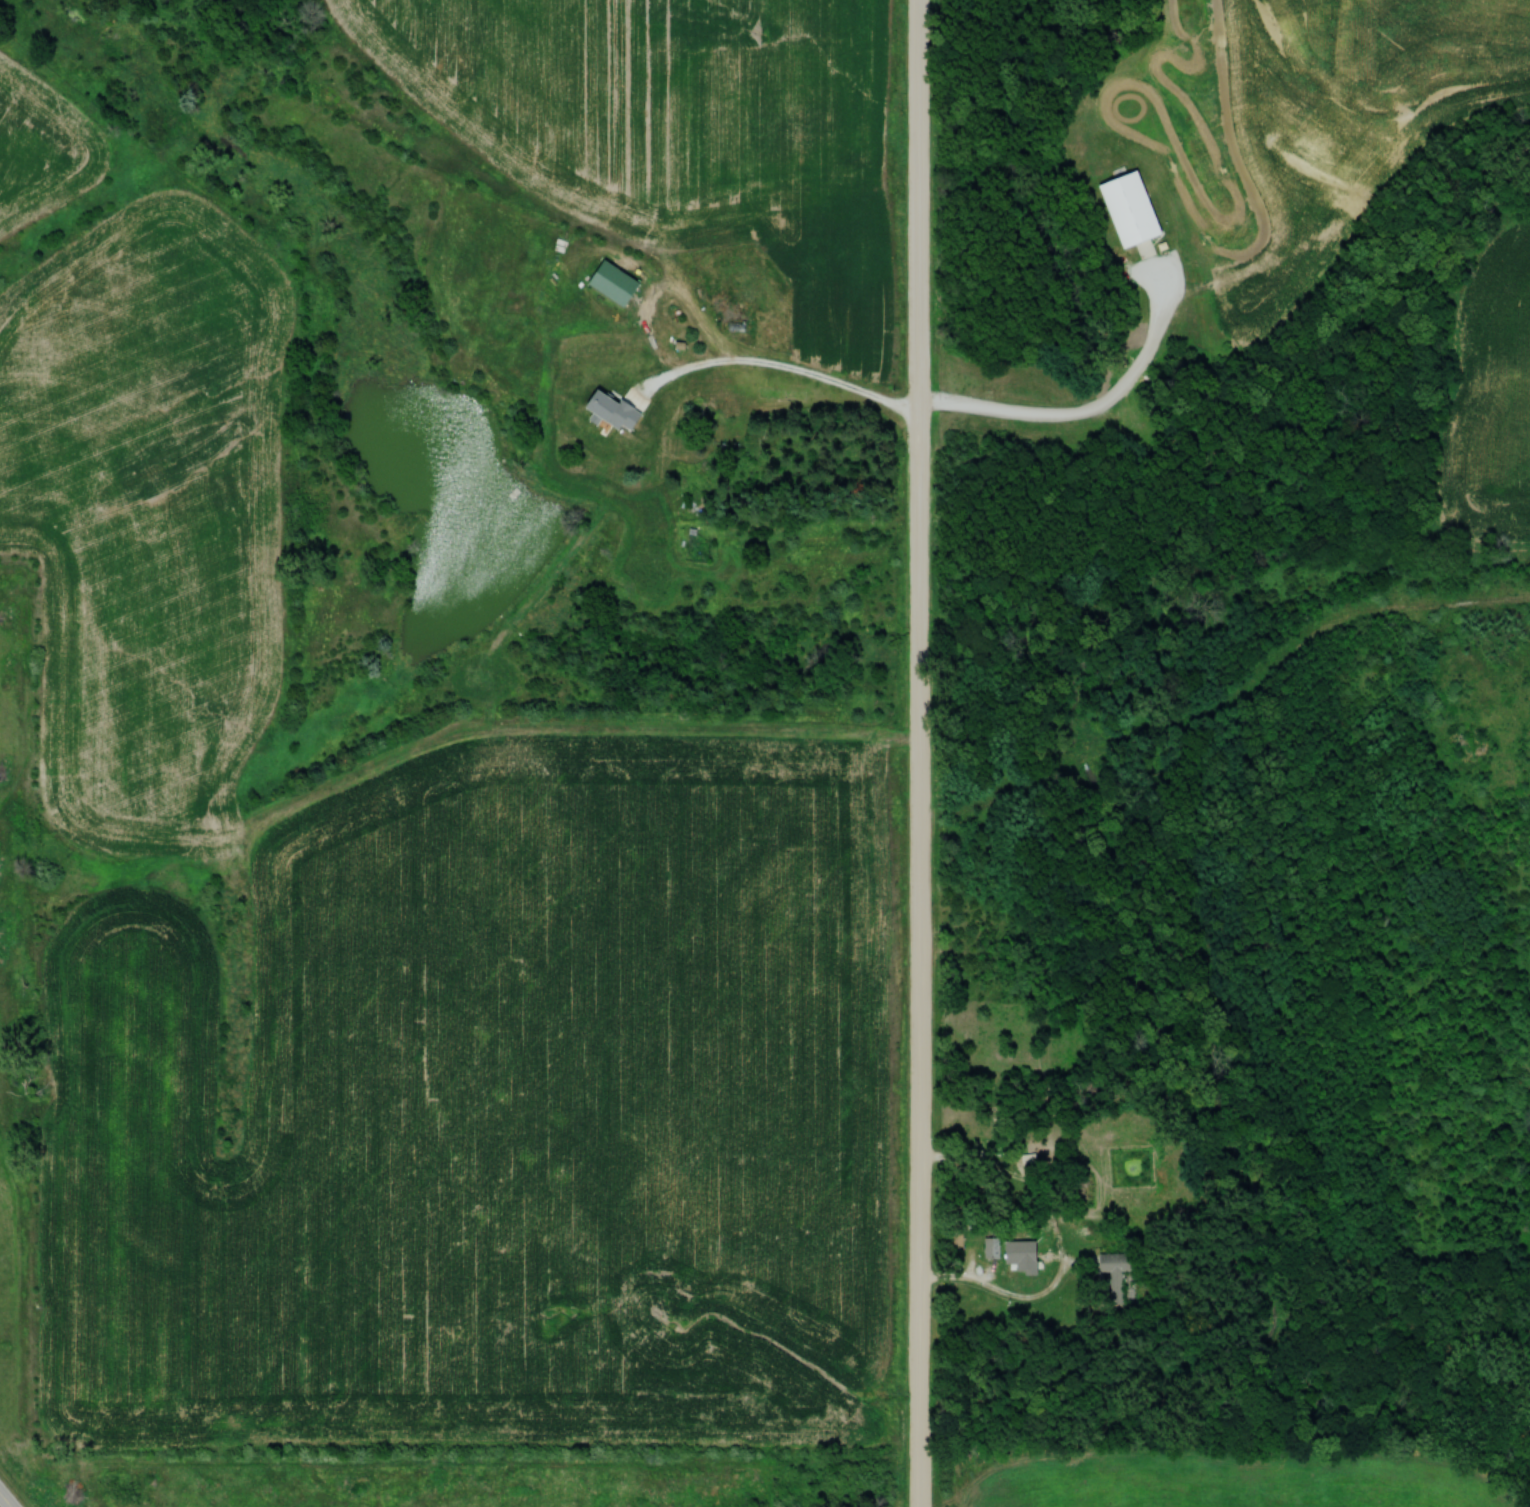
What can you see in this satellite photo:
building: (1125, 210)
road: (775, 364)
road: (1092, 407)
road: (920, 725)
building: (992, 1134)
road: (1059, 1240)
building: (990, 1245)
building: (1117, 1274)
road: (922, 1479)
road: (6, 1499)

